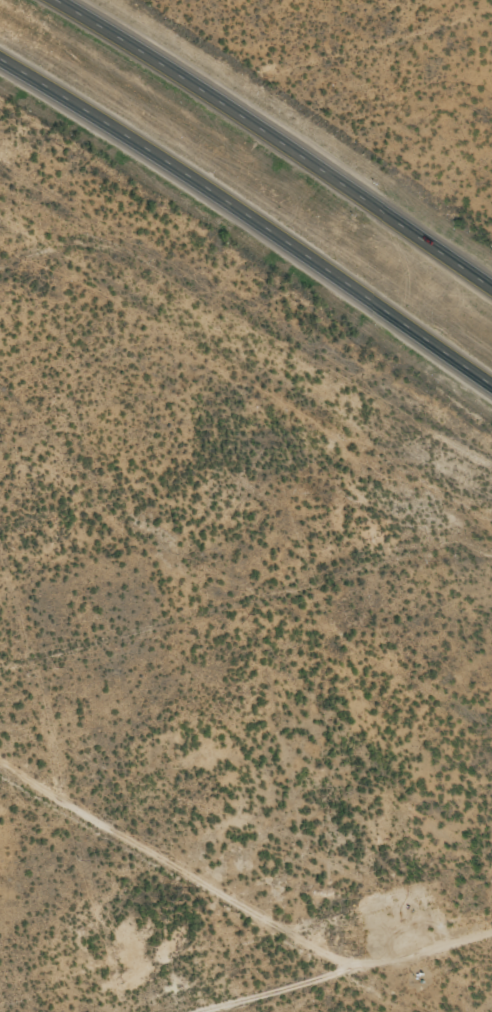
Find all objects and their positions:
road: (278, 137)
road: (250, 213)
road: (363, 974)

